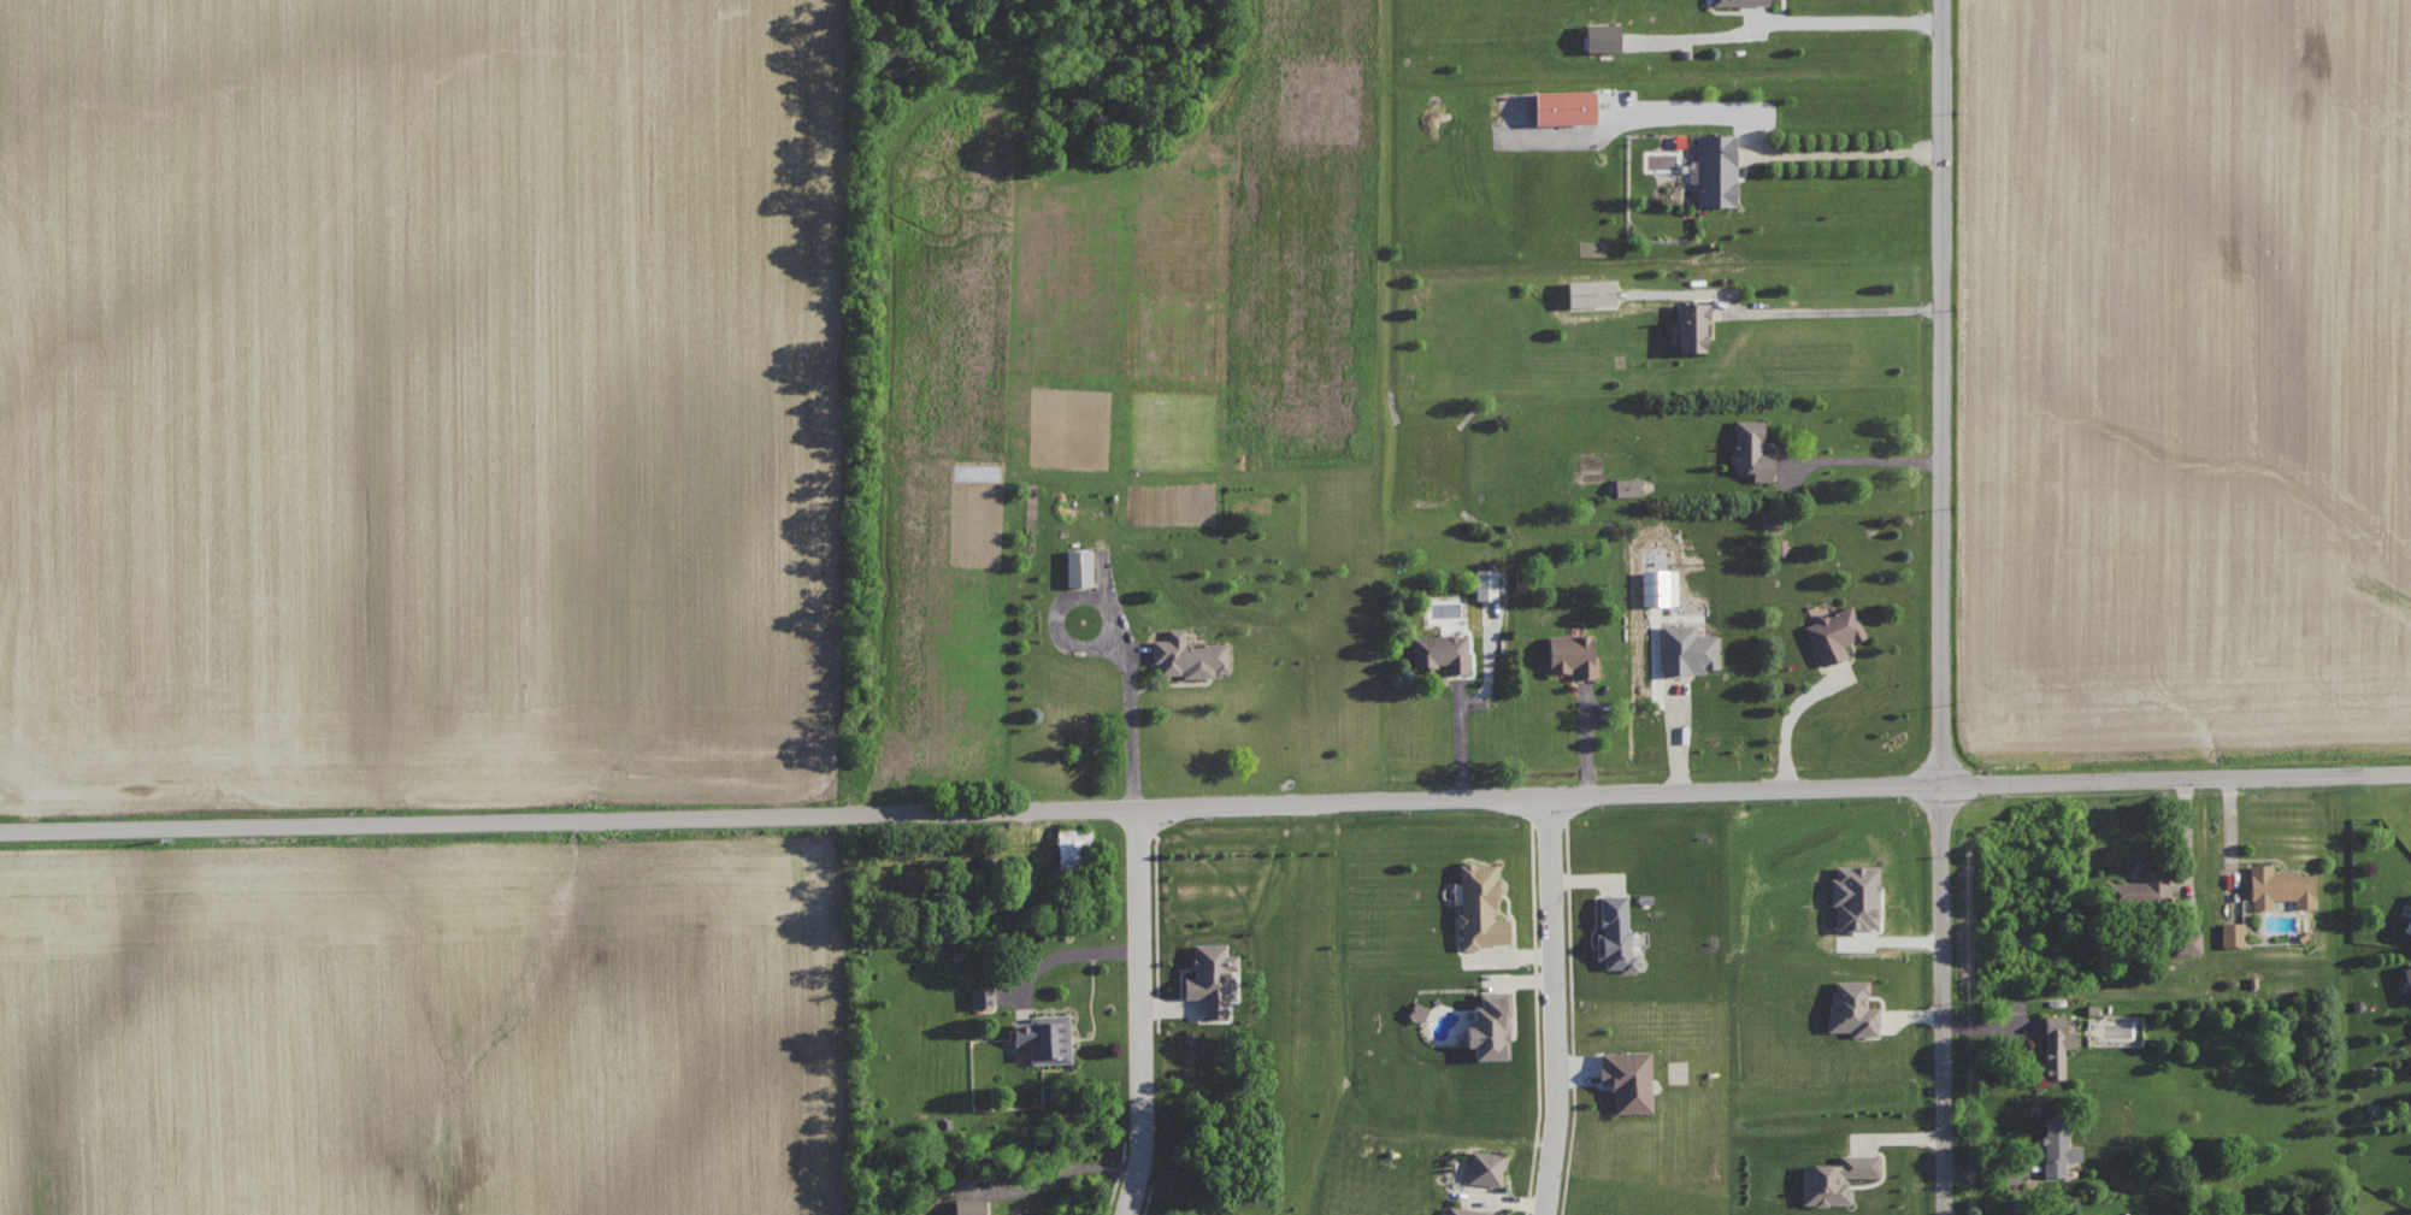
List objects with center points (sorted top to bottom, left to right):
building: (1740, 1)
road: (1852, 20)
building: (1603, 36)
building: (1564, 105)
road: (1850, 152)
building: (1716, 169)
road: (1831, 308)
building: (1692, 325)
building: (1752, 448)
road: (1864, 459)
building: (1628, 485)
building: (1664, 545)
building: (1079, 566)
building: (1486, 583)
road: (1940, 607)
road: (1118, 632)
building: (1834, 632)
building: (1687, 649)
building: (1443, 650)
building: (1573, 654)
building: (1189, 655)
road: (1788, 720)
road: (1460, 737)
road: (1205, 804)
building: (1073, 847)
building: (992, 878)
building: (2280, 885)
building: (2140, 887)
building: (1479, 904)
building: (2409, 926)
building: (1615, 932)
building: (2232, 932)
building: (2188, 942)
road: (1068, 951)
building: (1212, 975)
building: (2407, 977)
building: (983, 995)
road: (1556, 1004)
building: (1852, 1007)
road: (1143, 1011)
building: (1490, 1025)
building: (1045, 1036)
building: (2056, 1044)
building: (1627, 1078)
building: (2057, 1144)
building: (1485, 1167)
road: (1050, 1175)
building: (1835, 1176)
building: (968, 1205)
building: (1467, 1210)
building: (2068, 1214)

